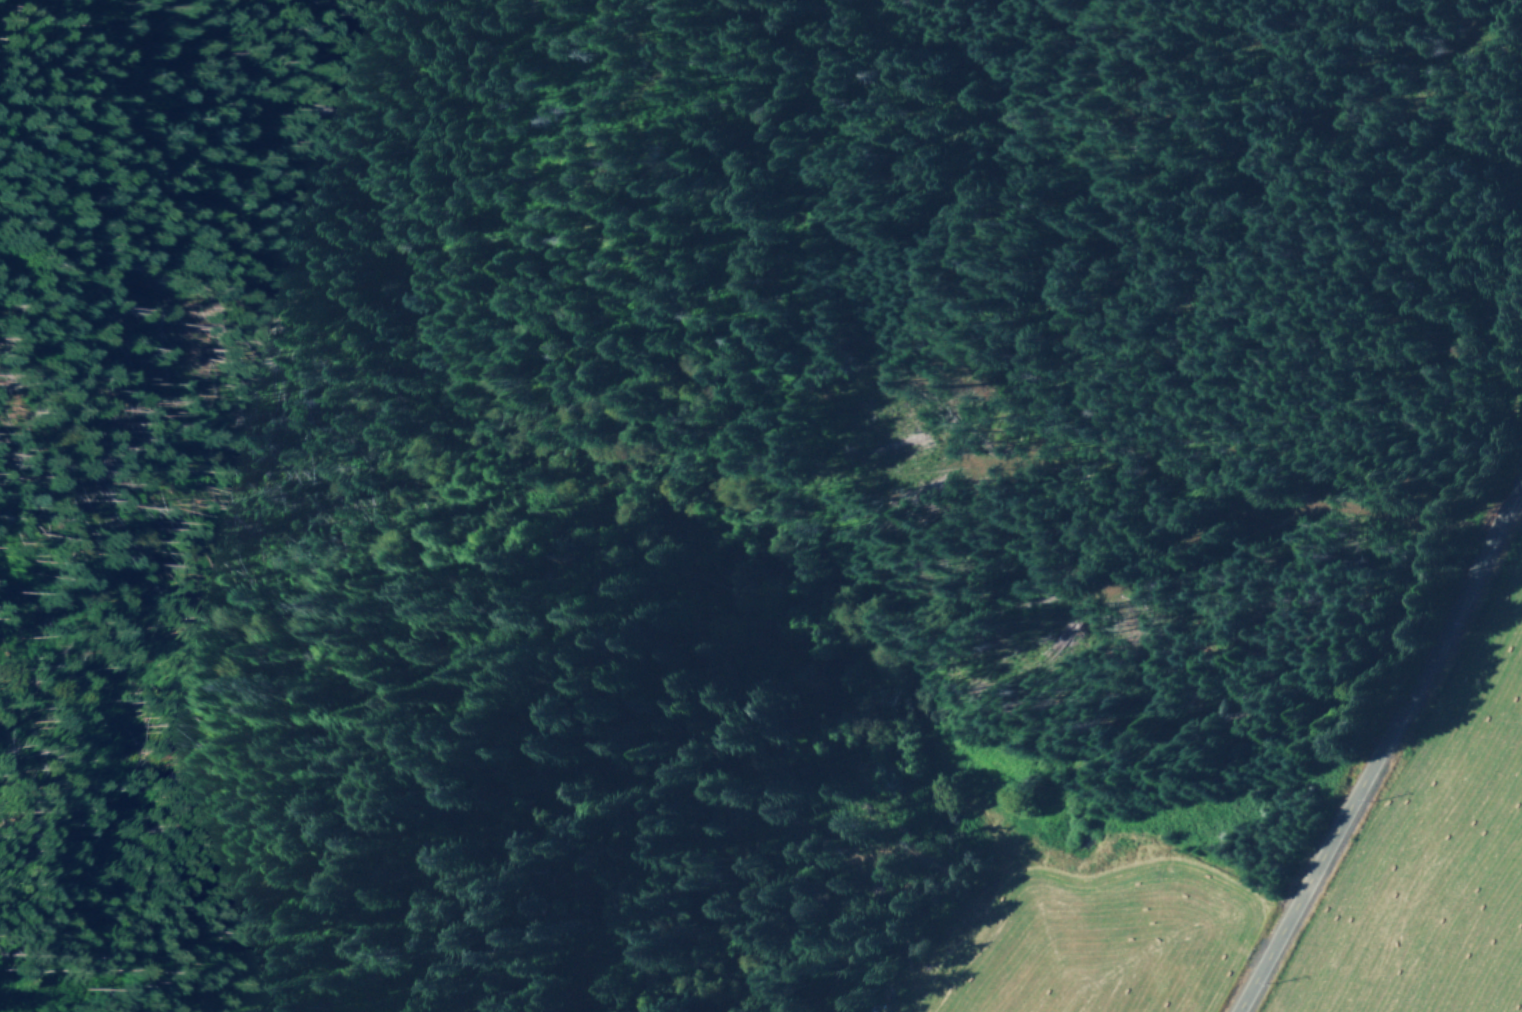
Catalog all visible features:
road: (1382, 741)

